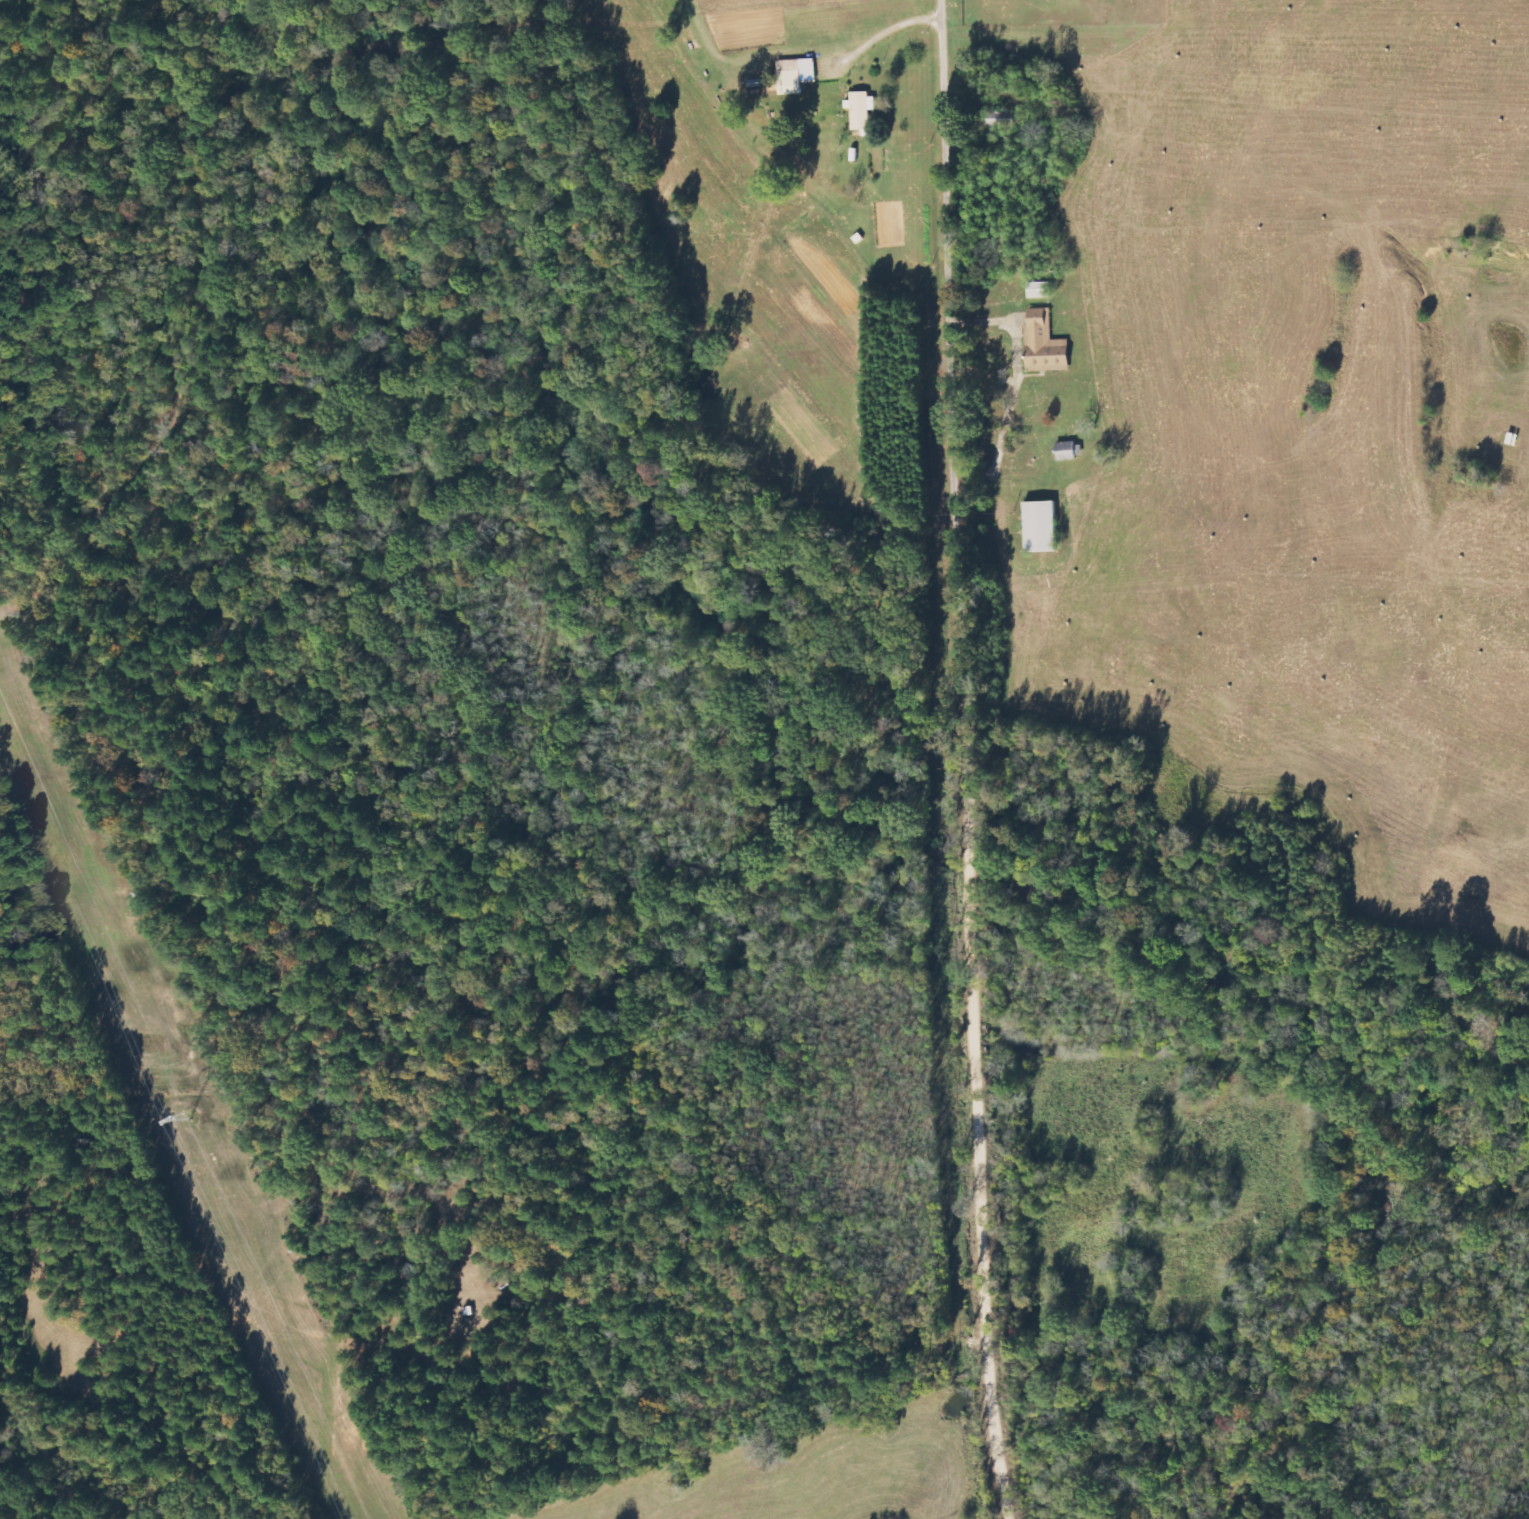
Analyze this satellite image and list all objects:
building: (795, 75)
building: (859, 110)
building: (1005, 120)
building: (1039, 290)
building: (1045, 344)
building: (1069, 451)
building: (1041, 526)
road: (973, 759)
power tower: (186, 1117)

